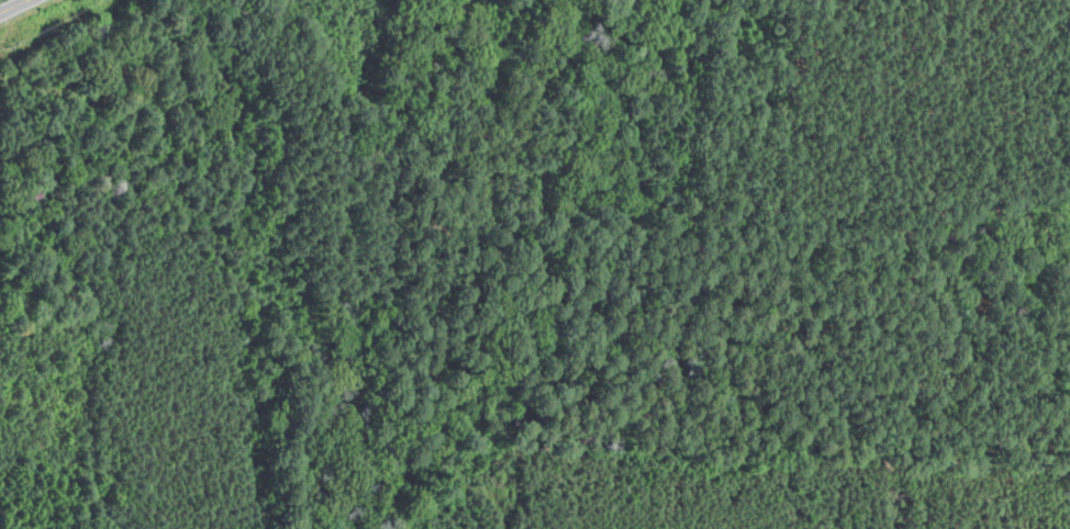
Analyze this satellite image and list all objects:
road: (15, 8)

